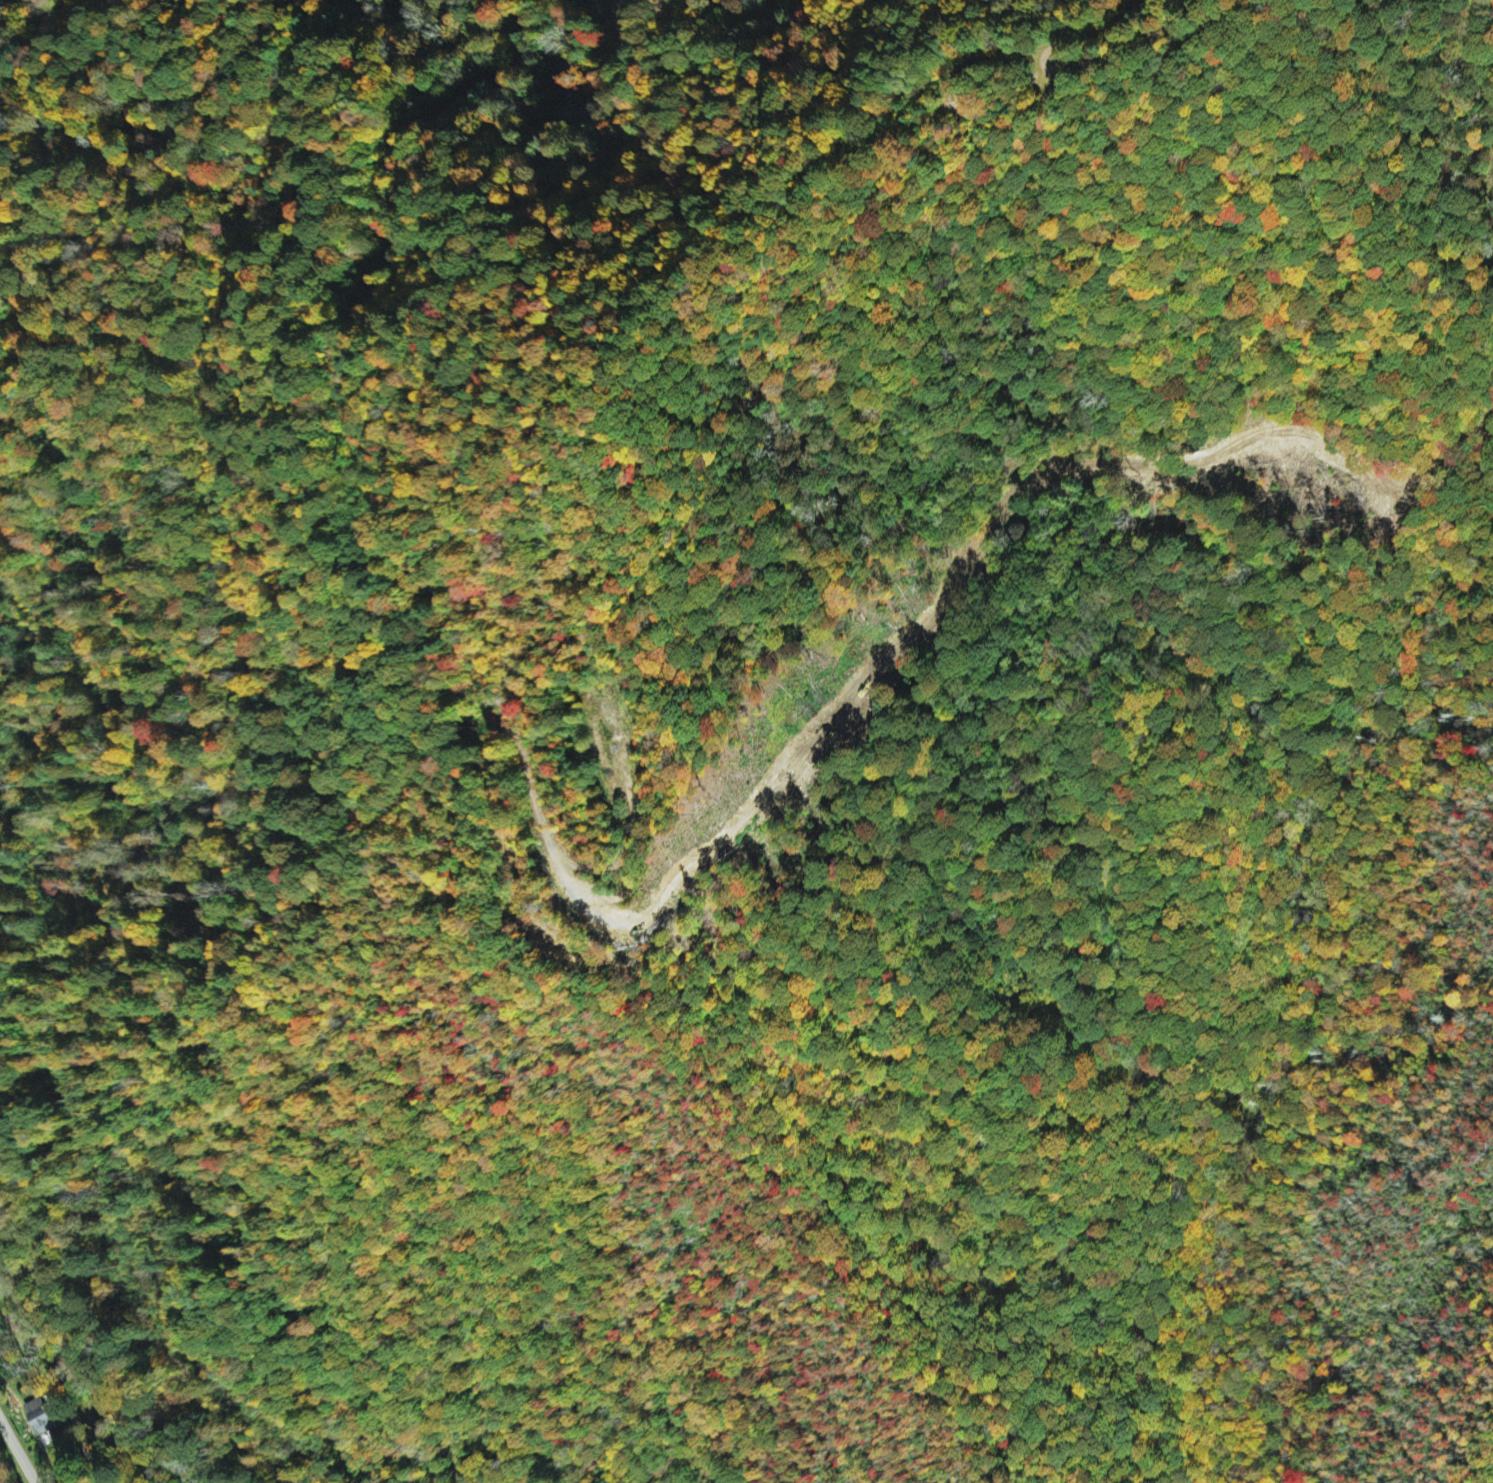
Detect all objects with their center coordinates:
road: (1101, 32)
road: (371, 492)
building: (40, 1417)
road: (18, 1452)

